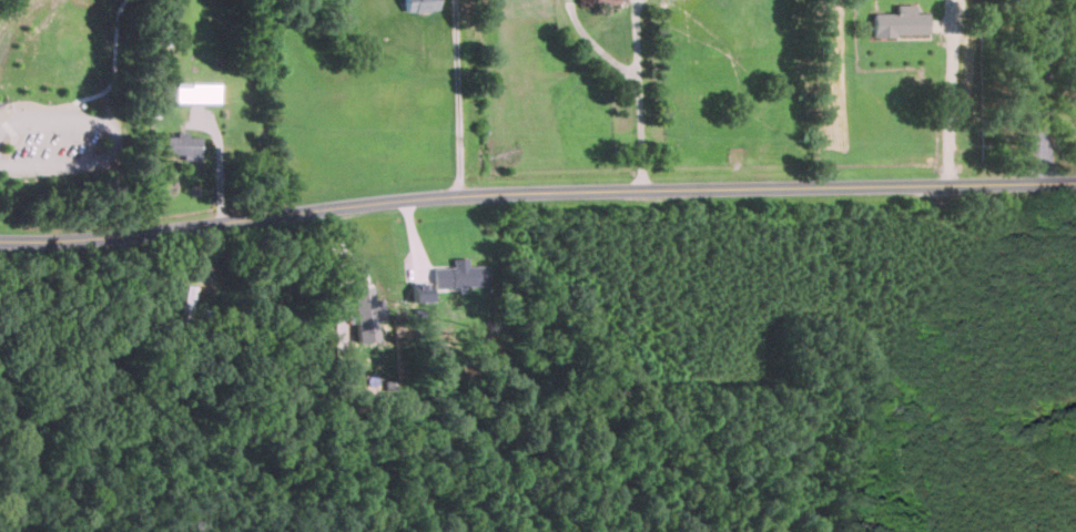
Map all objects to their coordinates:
building: (608, 0)
building: (420, 4)
building: (901, 21)
park: (51, 88)
road: (1042, 91)
building: (197, 92)
road: (457, 96)
road: (643, 96)
road: (950, 104)
building: (183, 144)
road: (536, 187)
building: (459, 274)
road: (168, 311)
building: (366, 311)

